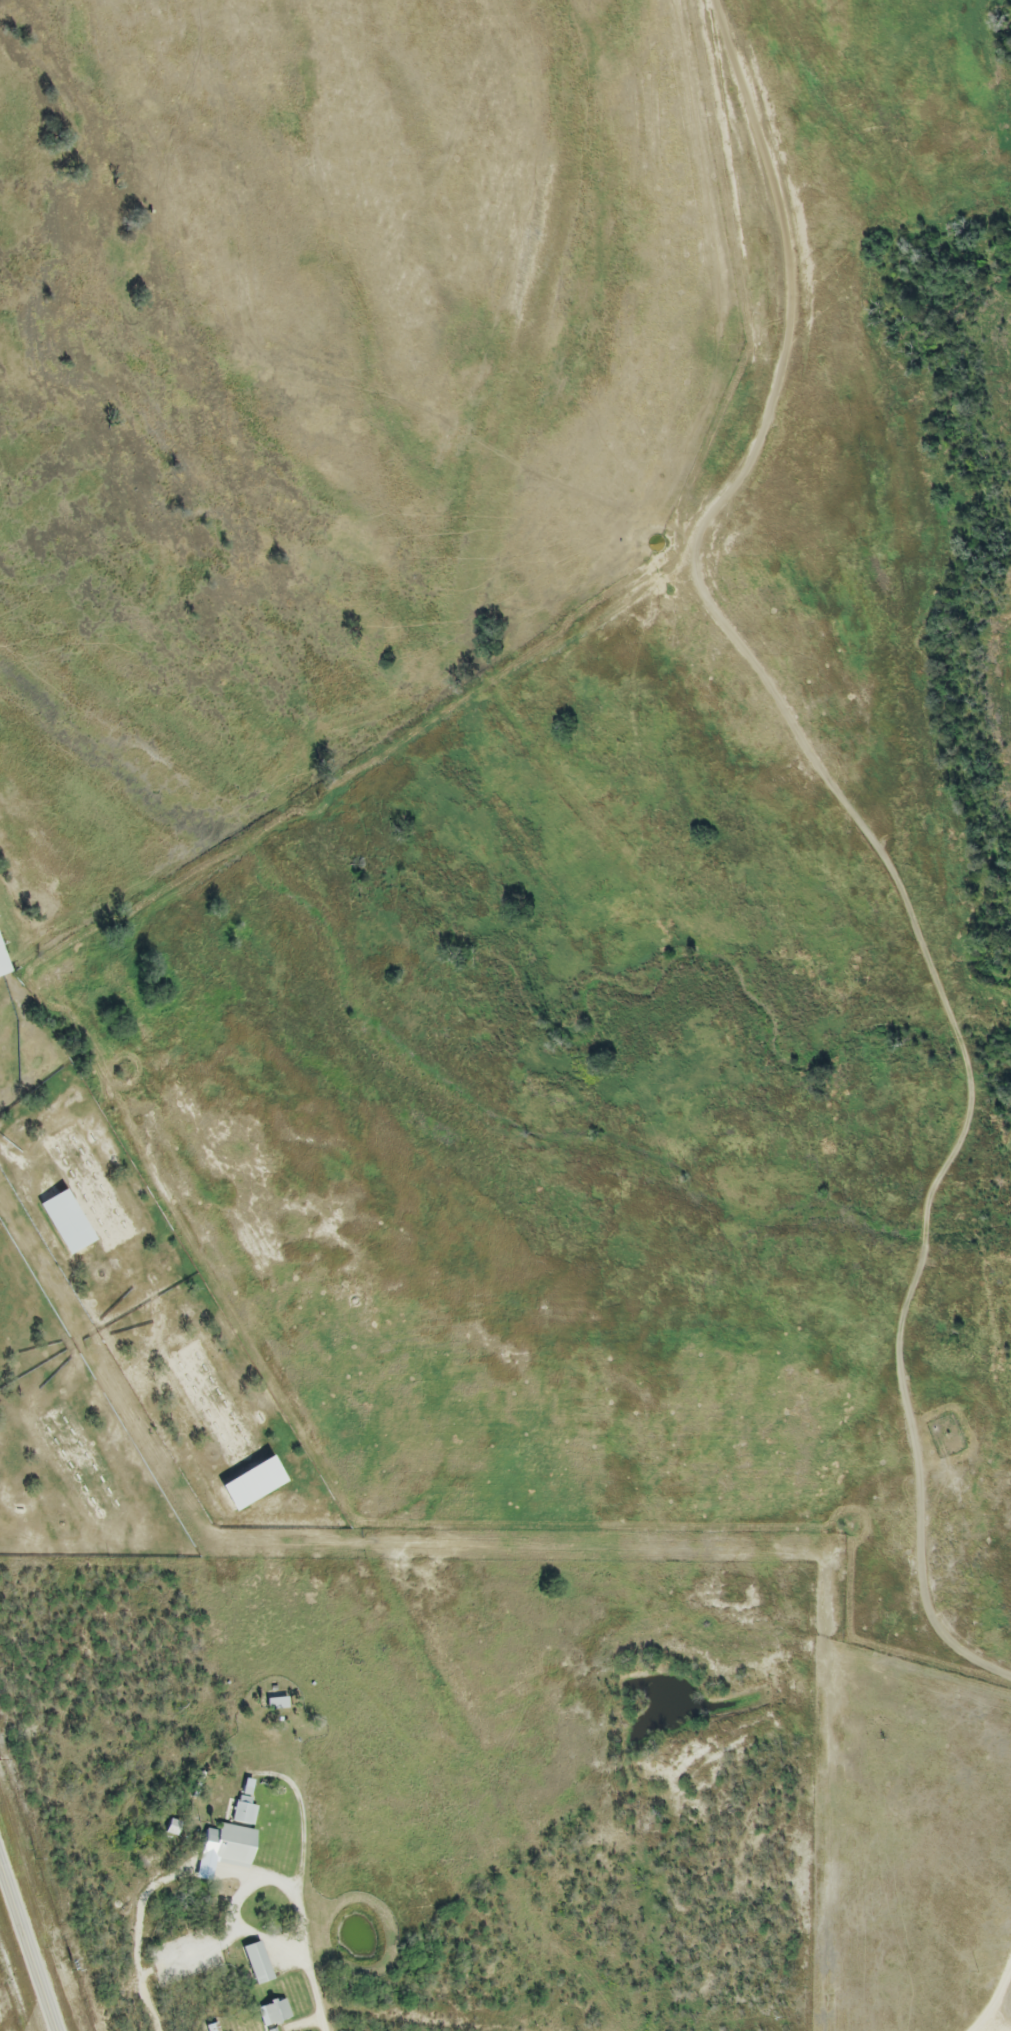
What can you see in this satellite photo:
building: (2, 970)
building: (276, 1704)
building: (244, 1806)
building: (172, 1828)
building: (230, 1846)
building: (221, 1878)
road: (247, 1888)
road: (28, 1946)
building: (256, 1964)
road: (317, 1988)
building: (275, 2012)

